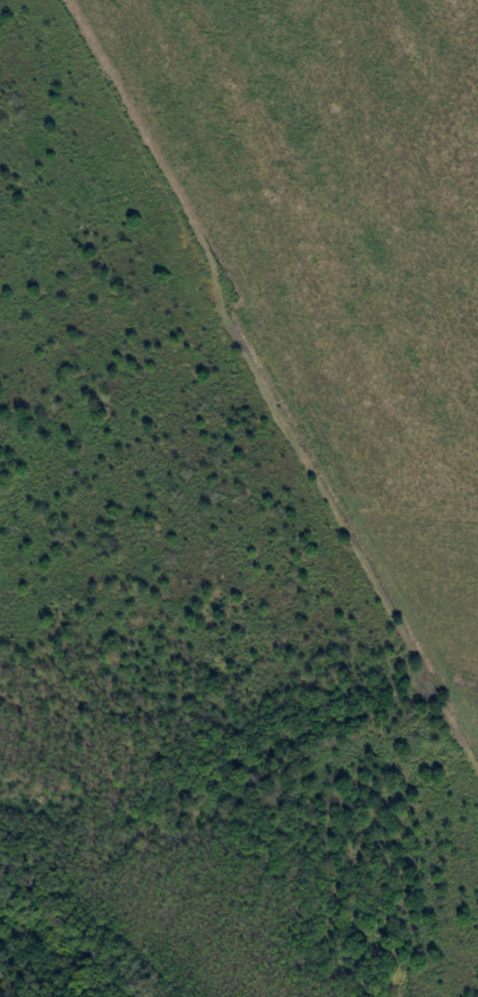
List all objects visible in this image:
road: (273, 368)

